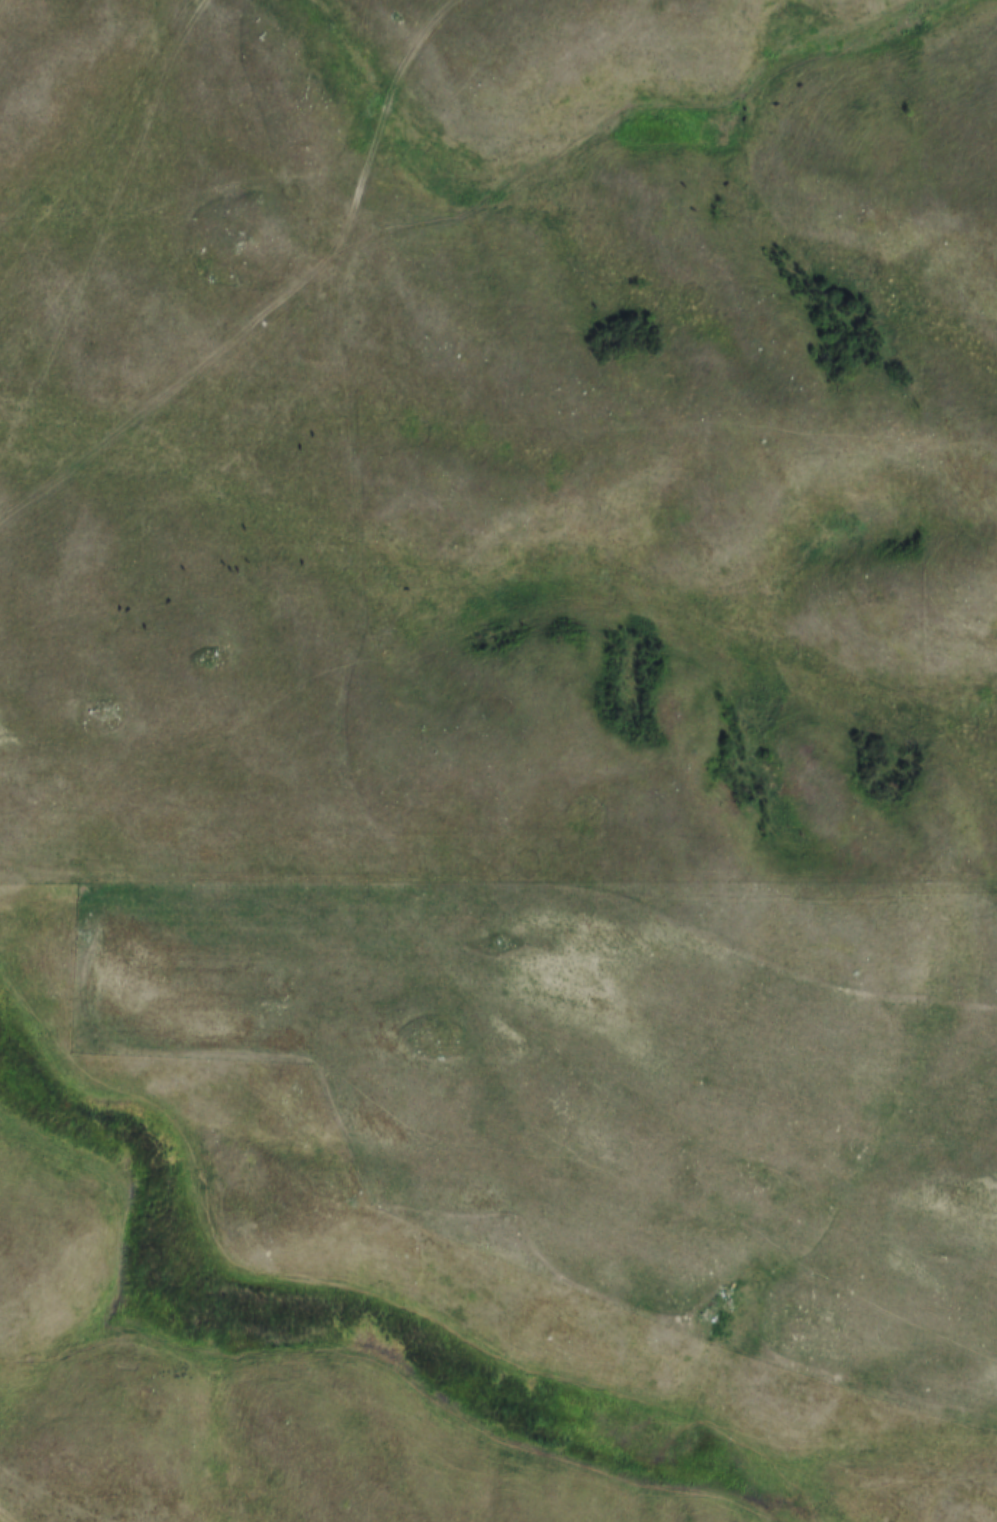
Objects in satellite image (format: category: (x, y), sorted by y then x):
road: (360, 520)

